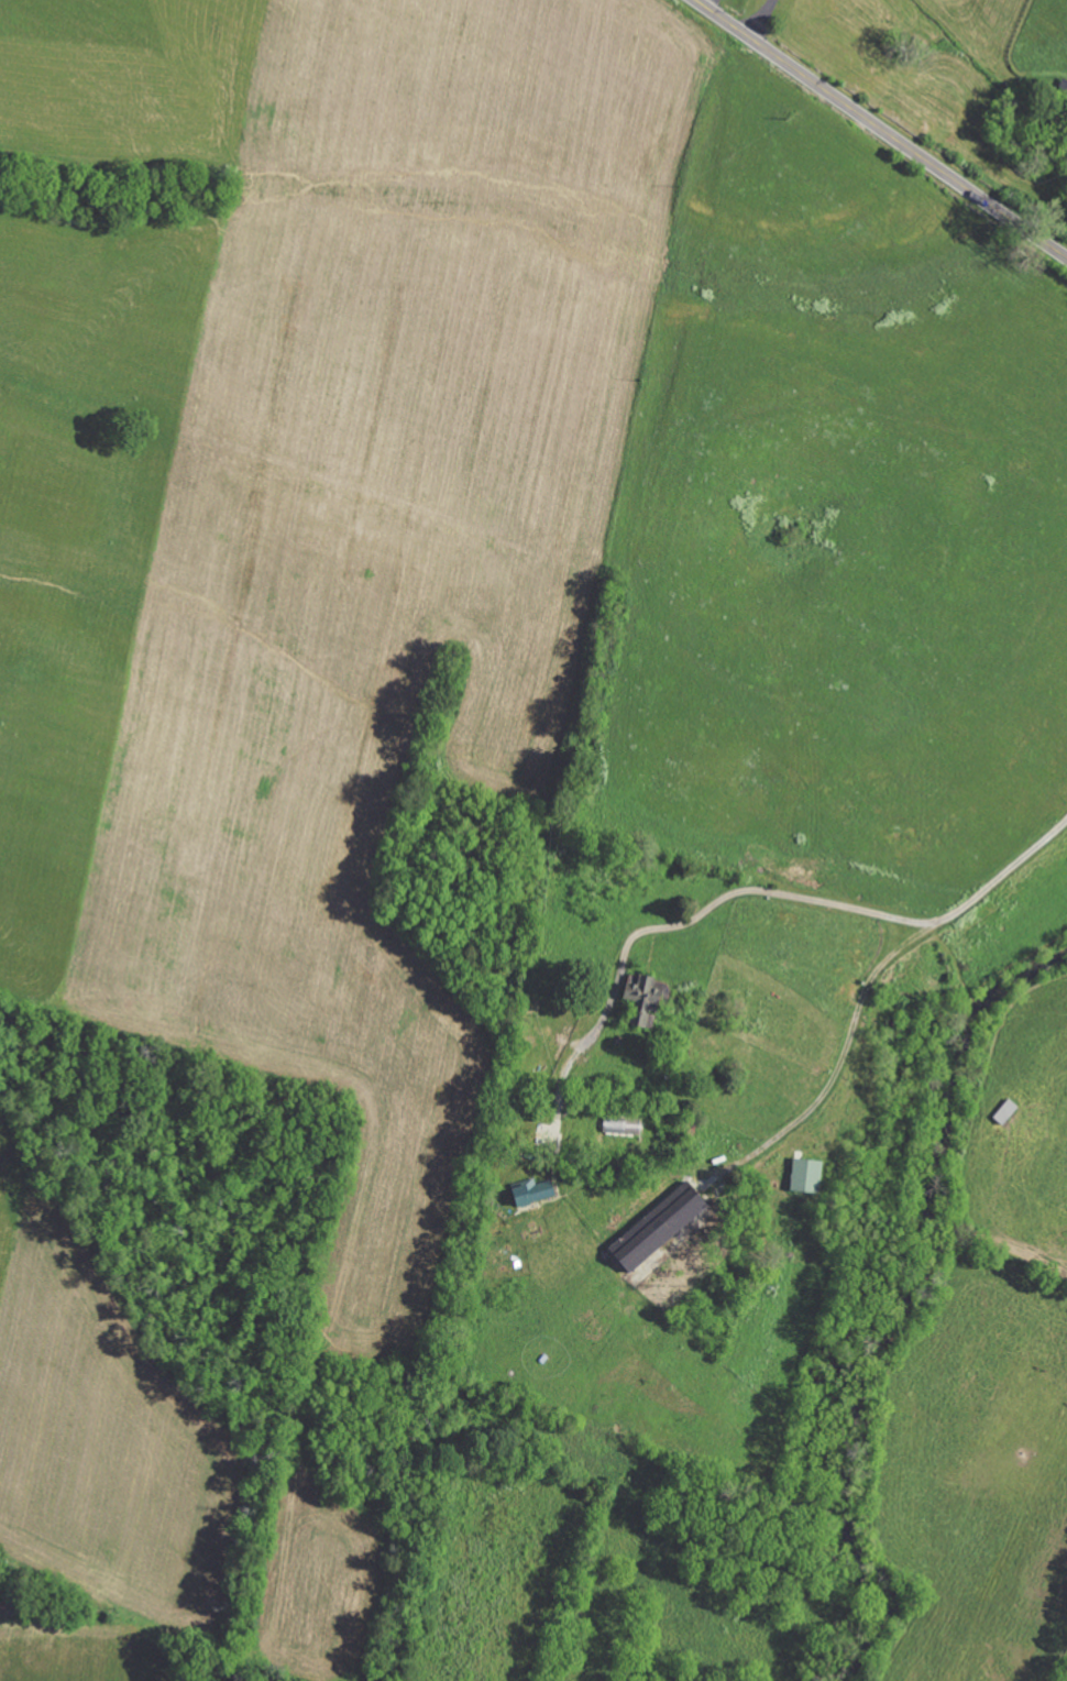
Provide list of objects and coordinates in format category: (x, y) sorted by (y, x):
road: (710, 3)
road: (759, 18)
road: (880, 130)
road: (752, 892)
road: (845, 1048)
building: (802, 1176)
building: (539, 1191)
building: (665, 1227)

